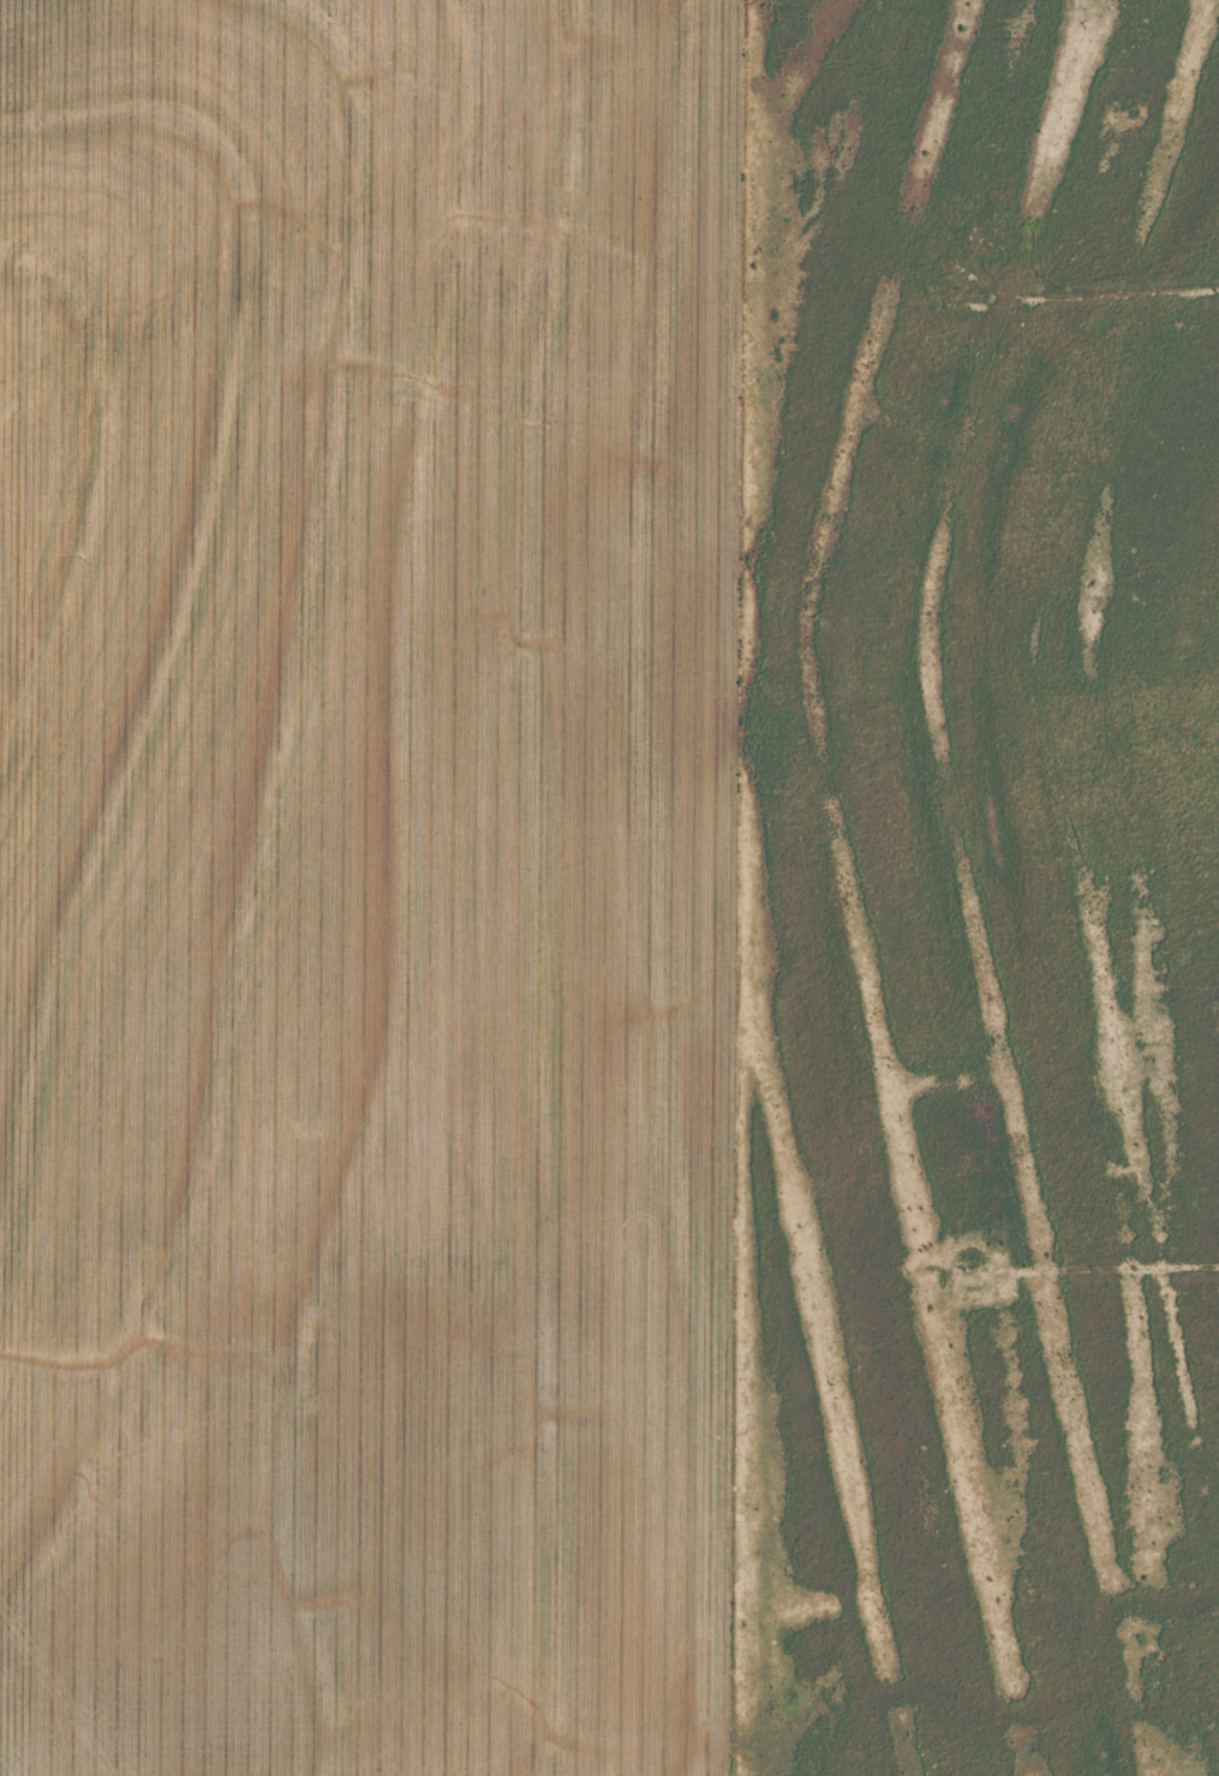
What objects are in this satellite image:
road: (213, 297)
road: (949, 884)
road: (221, 1261)

